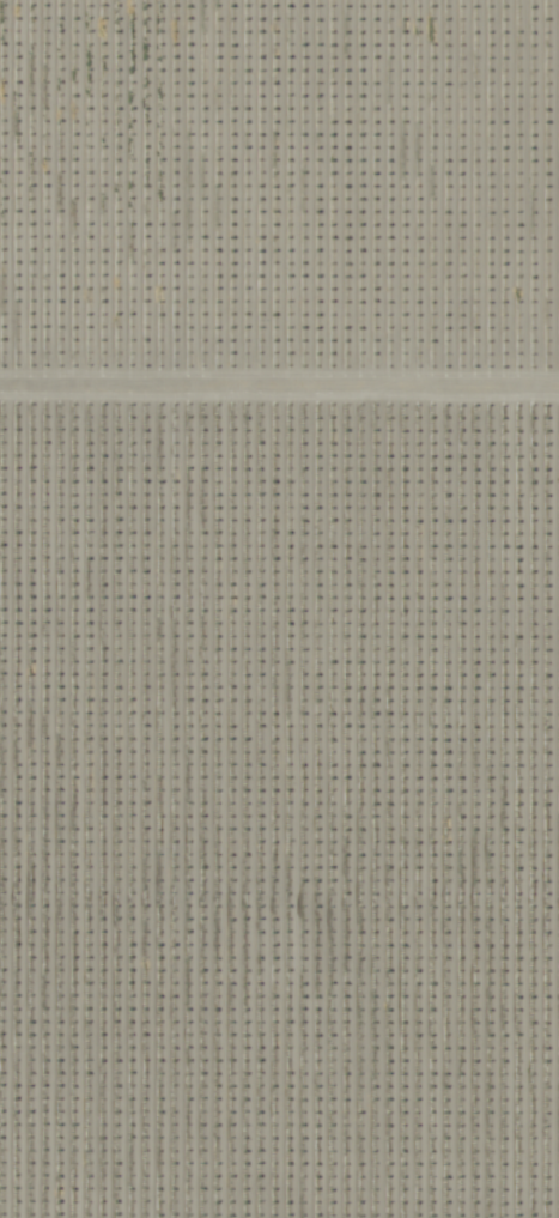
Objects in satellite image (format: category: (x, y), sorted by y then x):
road: (279, 393)
crop: (279, 489)
crop: (278, 1099)

